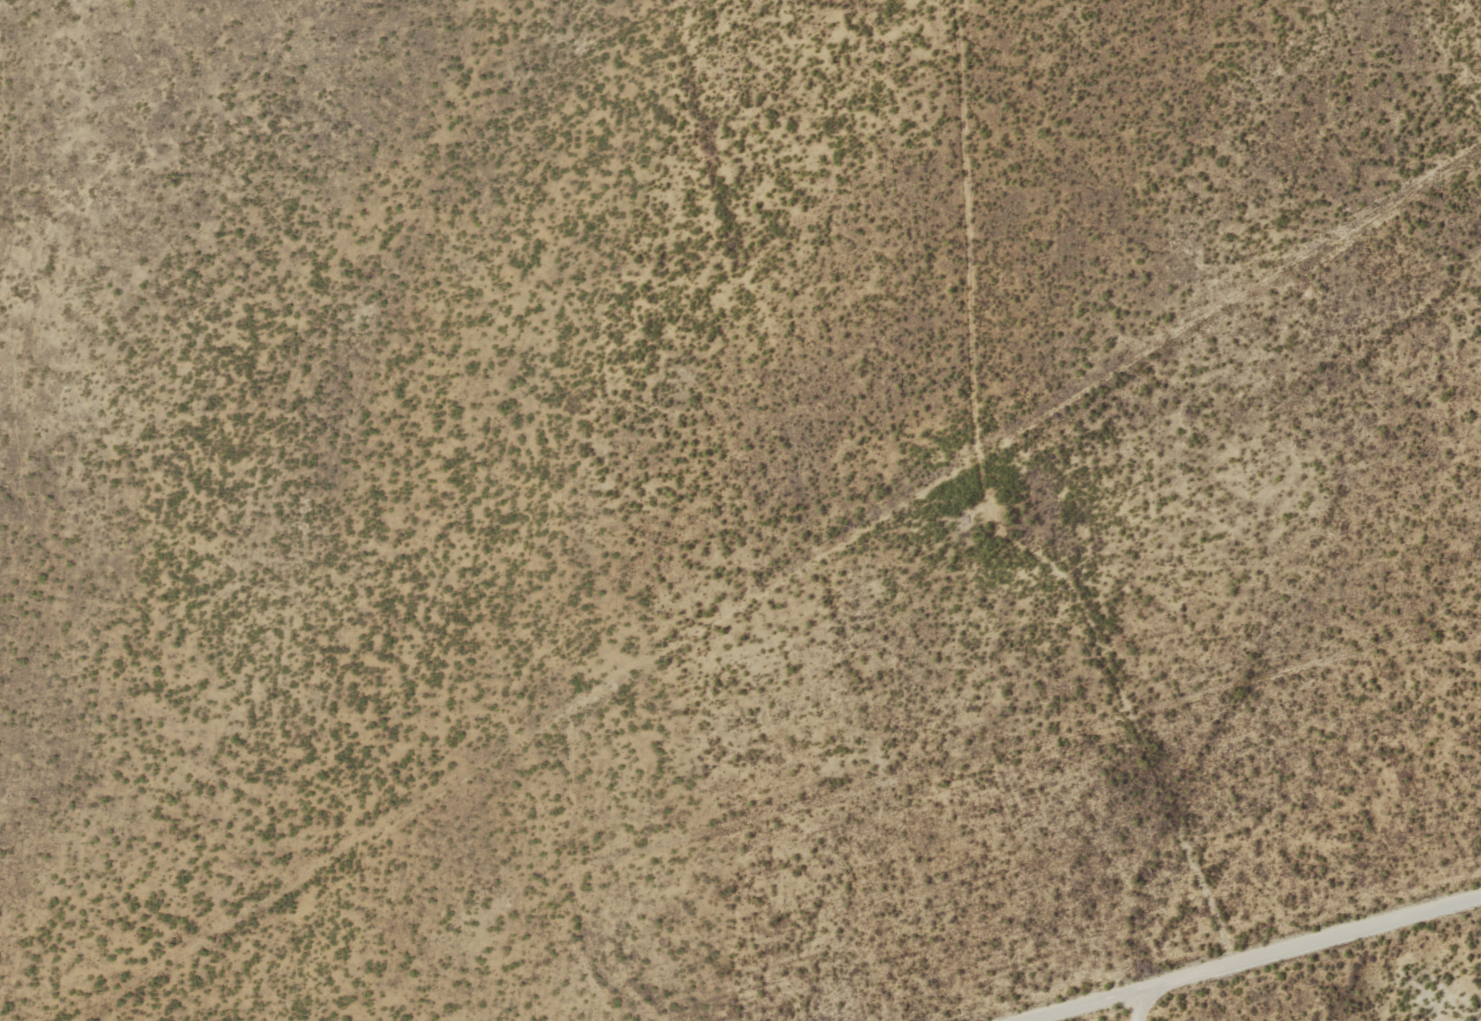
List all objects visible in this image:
road: (992, 513)
road: (1246, 954)
road: (1139, 1003)

